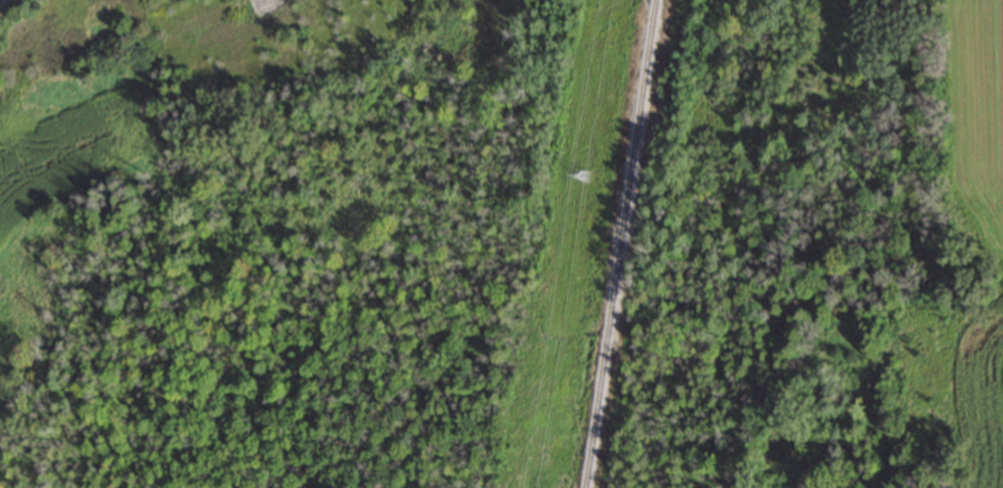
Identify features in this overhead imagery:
railway: (625, 244)

